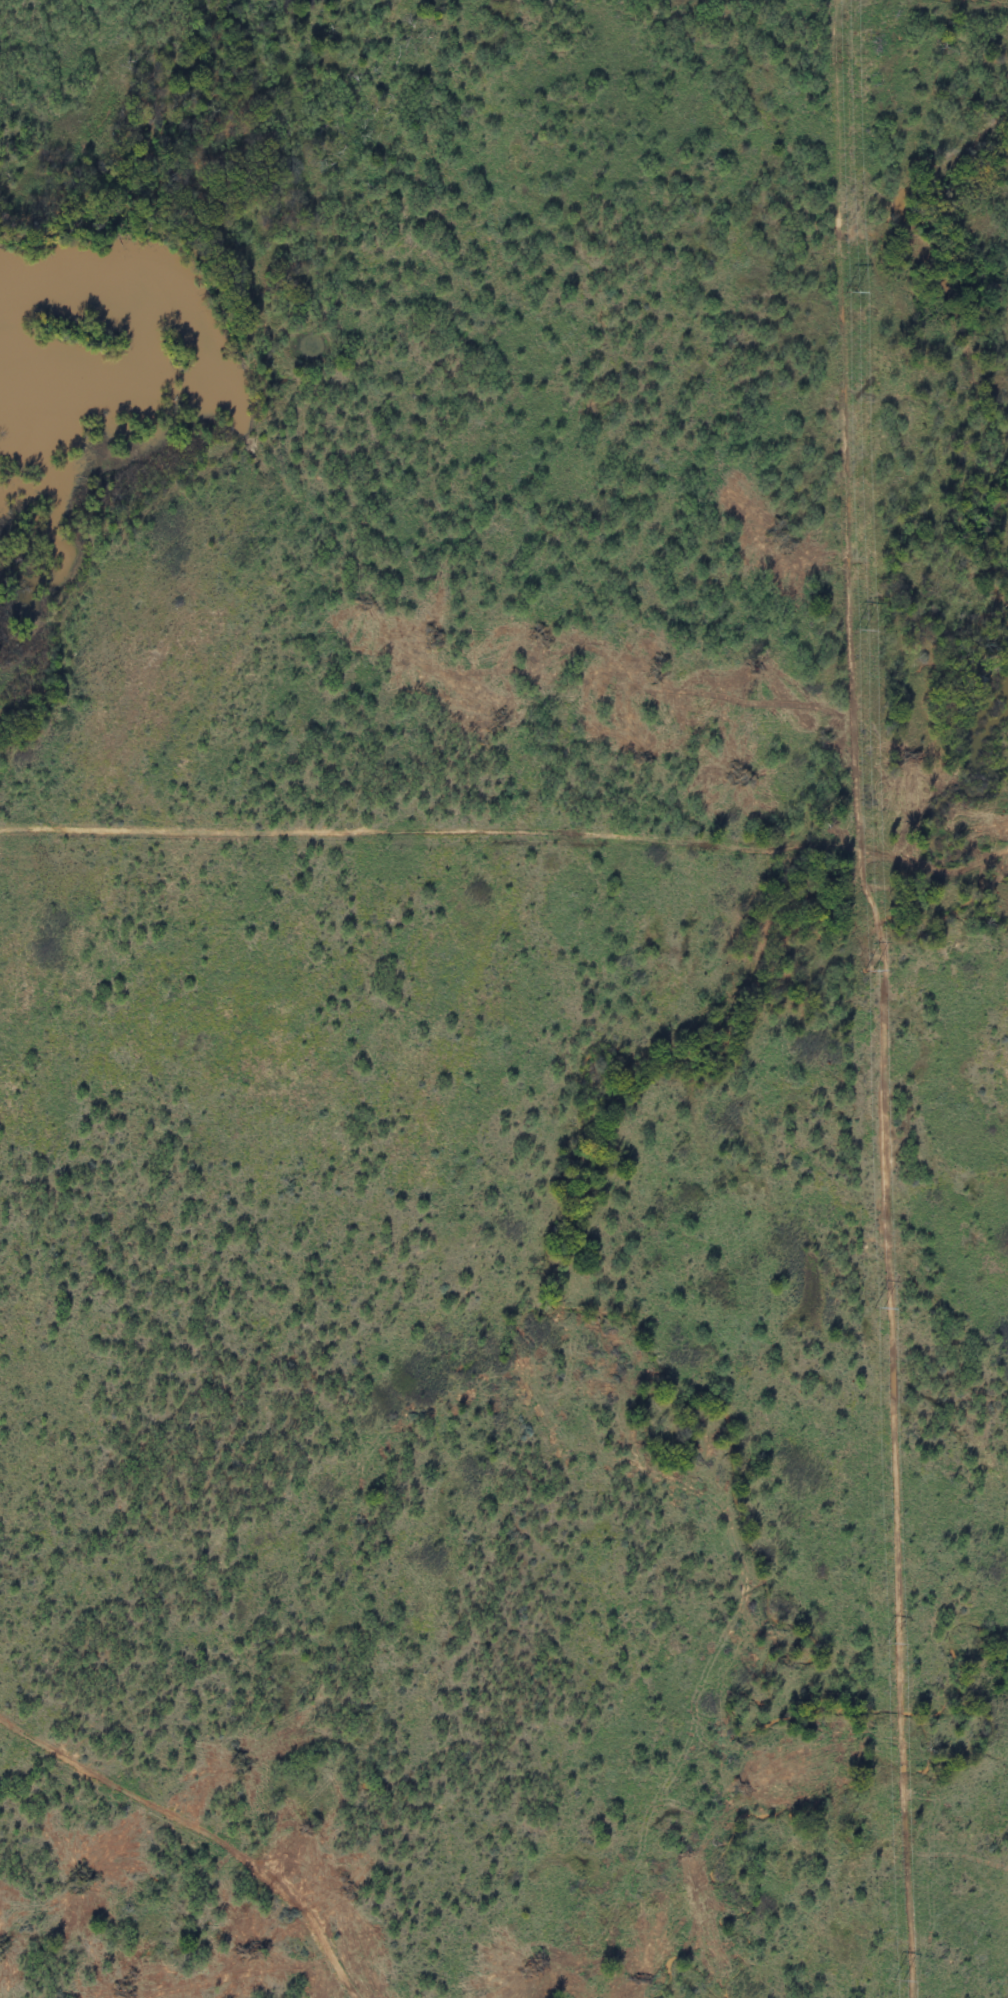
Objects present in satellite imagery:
road: (171, 1887)

